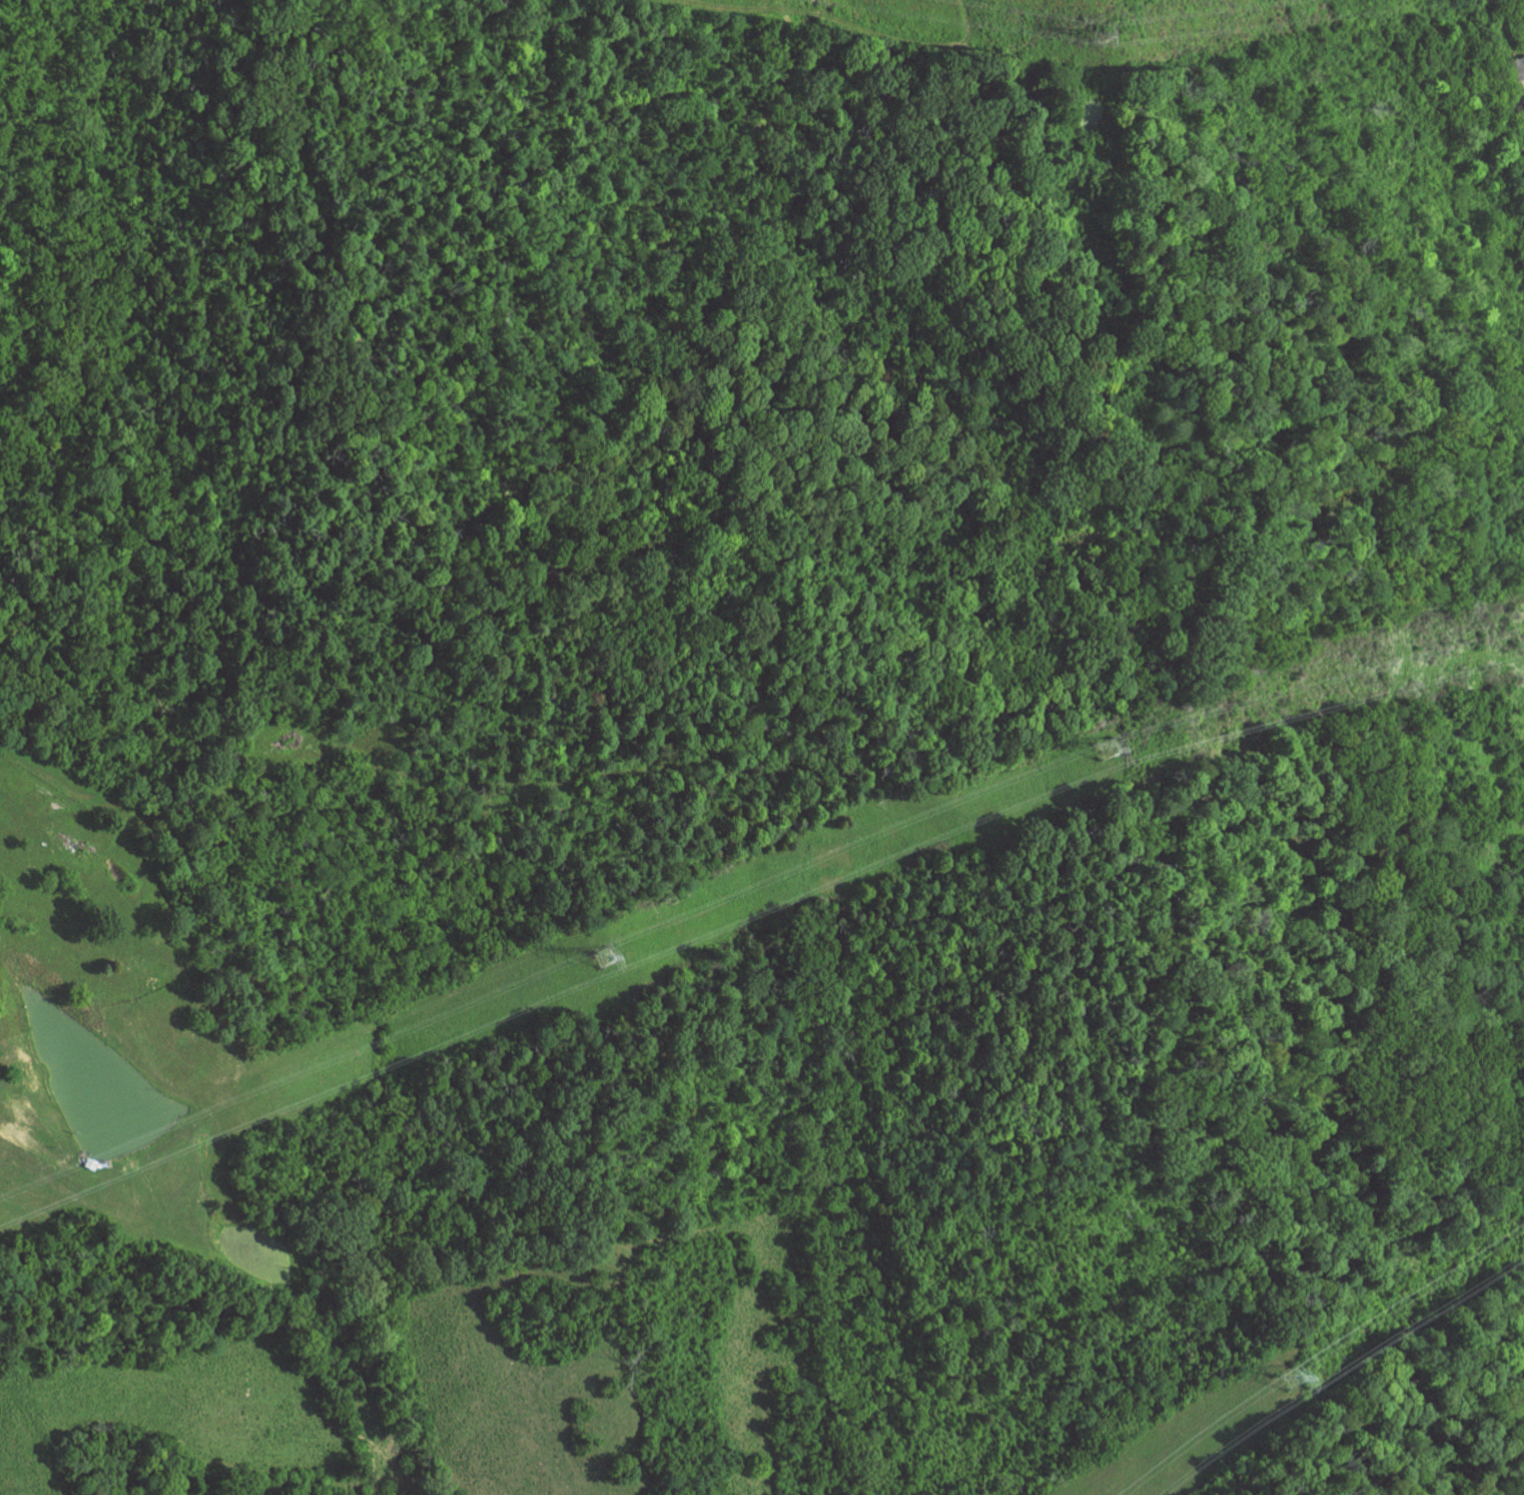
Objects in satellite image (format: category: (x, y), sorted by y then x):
power tower: (1090, 51)
power tower: (1100, 750)
power tower: (598, 955)
power tower: (1284, 1381)

